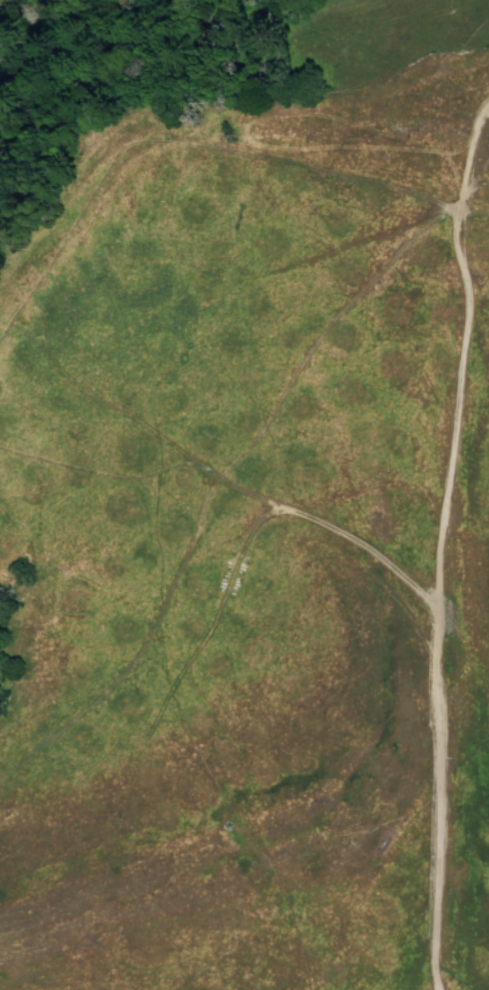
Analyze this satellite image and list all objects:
crop: (244, 495)
road: (321, 526)
road: (440, 542)

